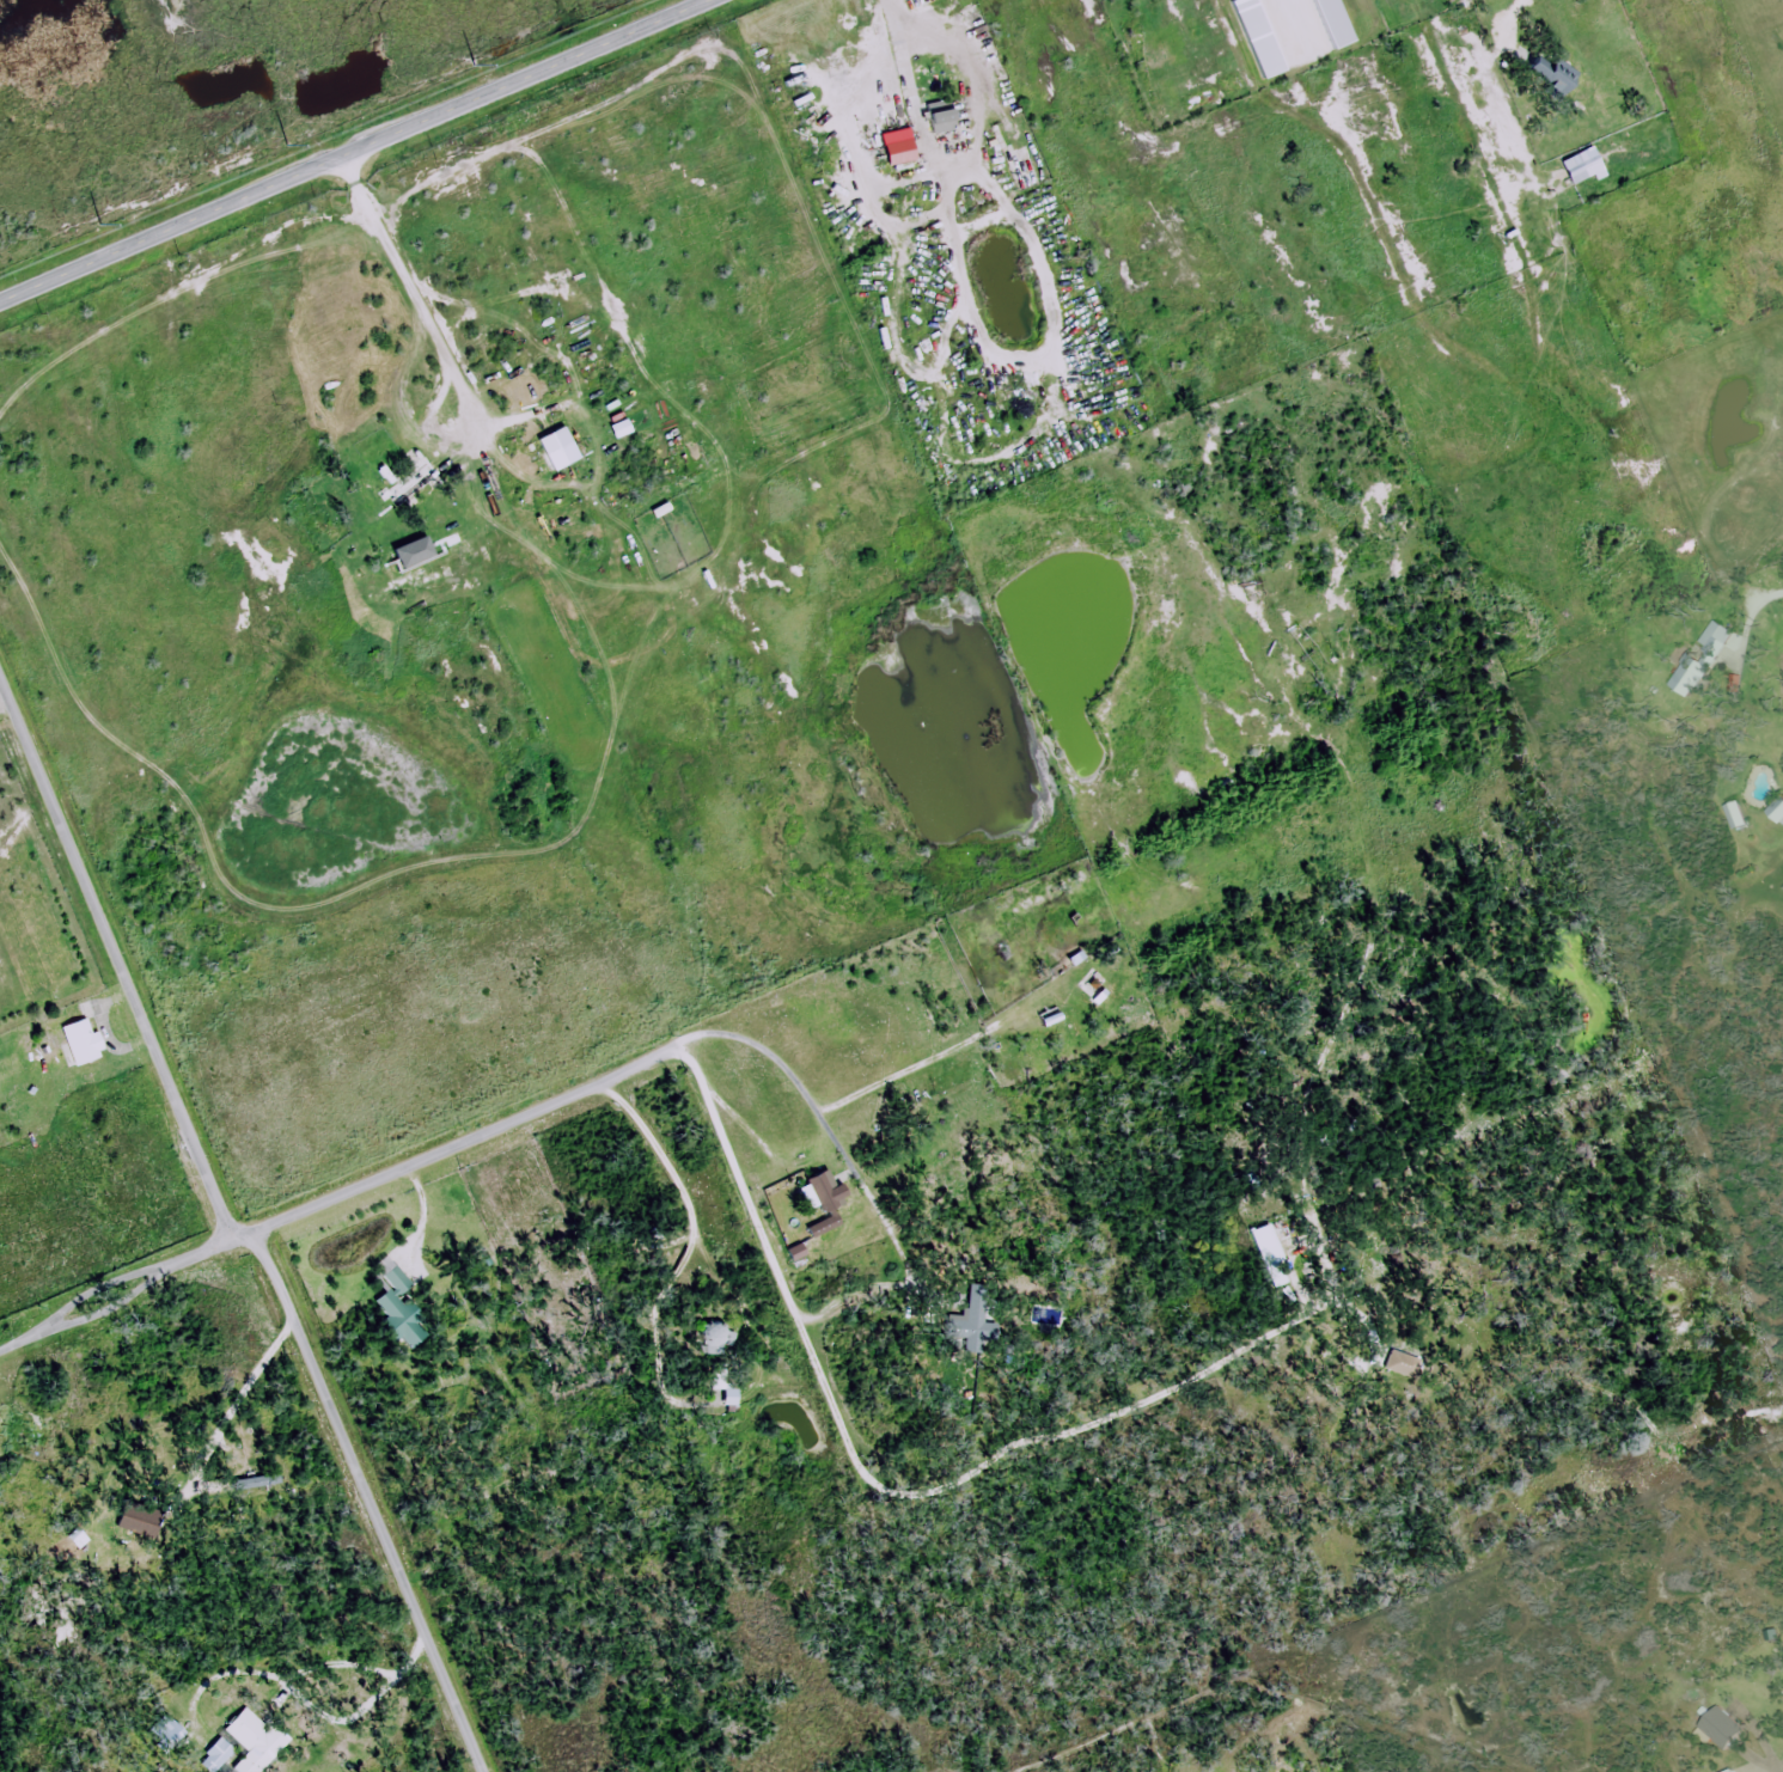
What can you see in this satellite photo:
building: (1330, 23)
building: (1257, 37)
building: (1550, 72)
building: (946, 122)
road: (355, 152)
building: (1580, 166)
building: (891, 331)
building: (623, 429)
building: (555, 452)
building: (410, 483)
building: (1302, 636)
building: (1715, 643)
building: (1686, 677)
building: (1776, 813)
building: (1733, 818)
building: (86, 1041)
road: (329, 1190)
road: (218, 1196)
building: (828, 1203)
road: (419, 1209)
building: (967, 1324)
building: (715, 1337)
building: (733, 1394)
building: (1718, 1728)
road: (465, 1737)
building: (246, 1744)

